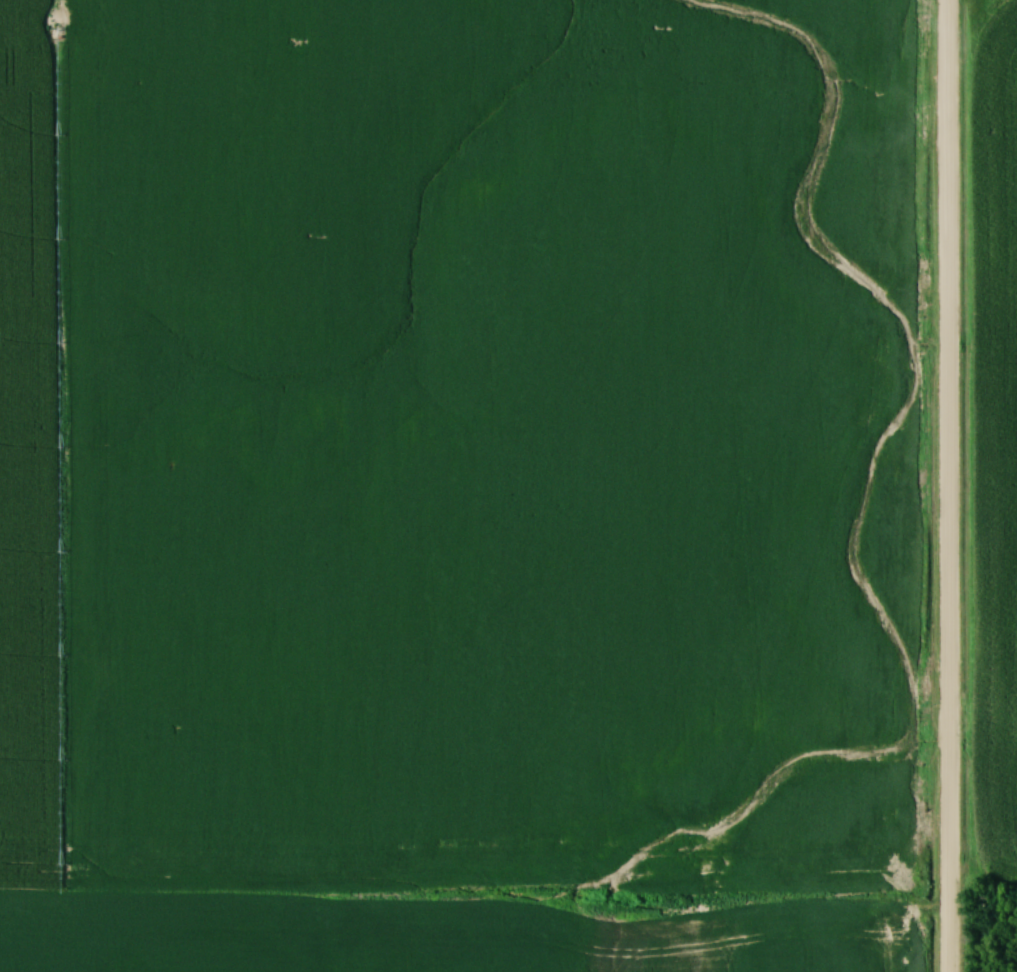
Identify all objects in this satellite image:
road: (947, 486)

